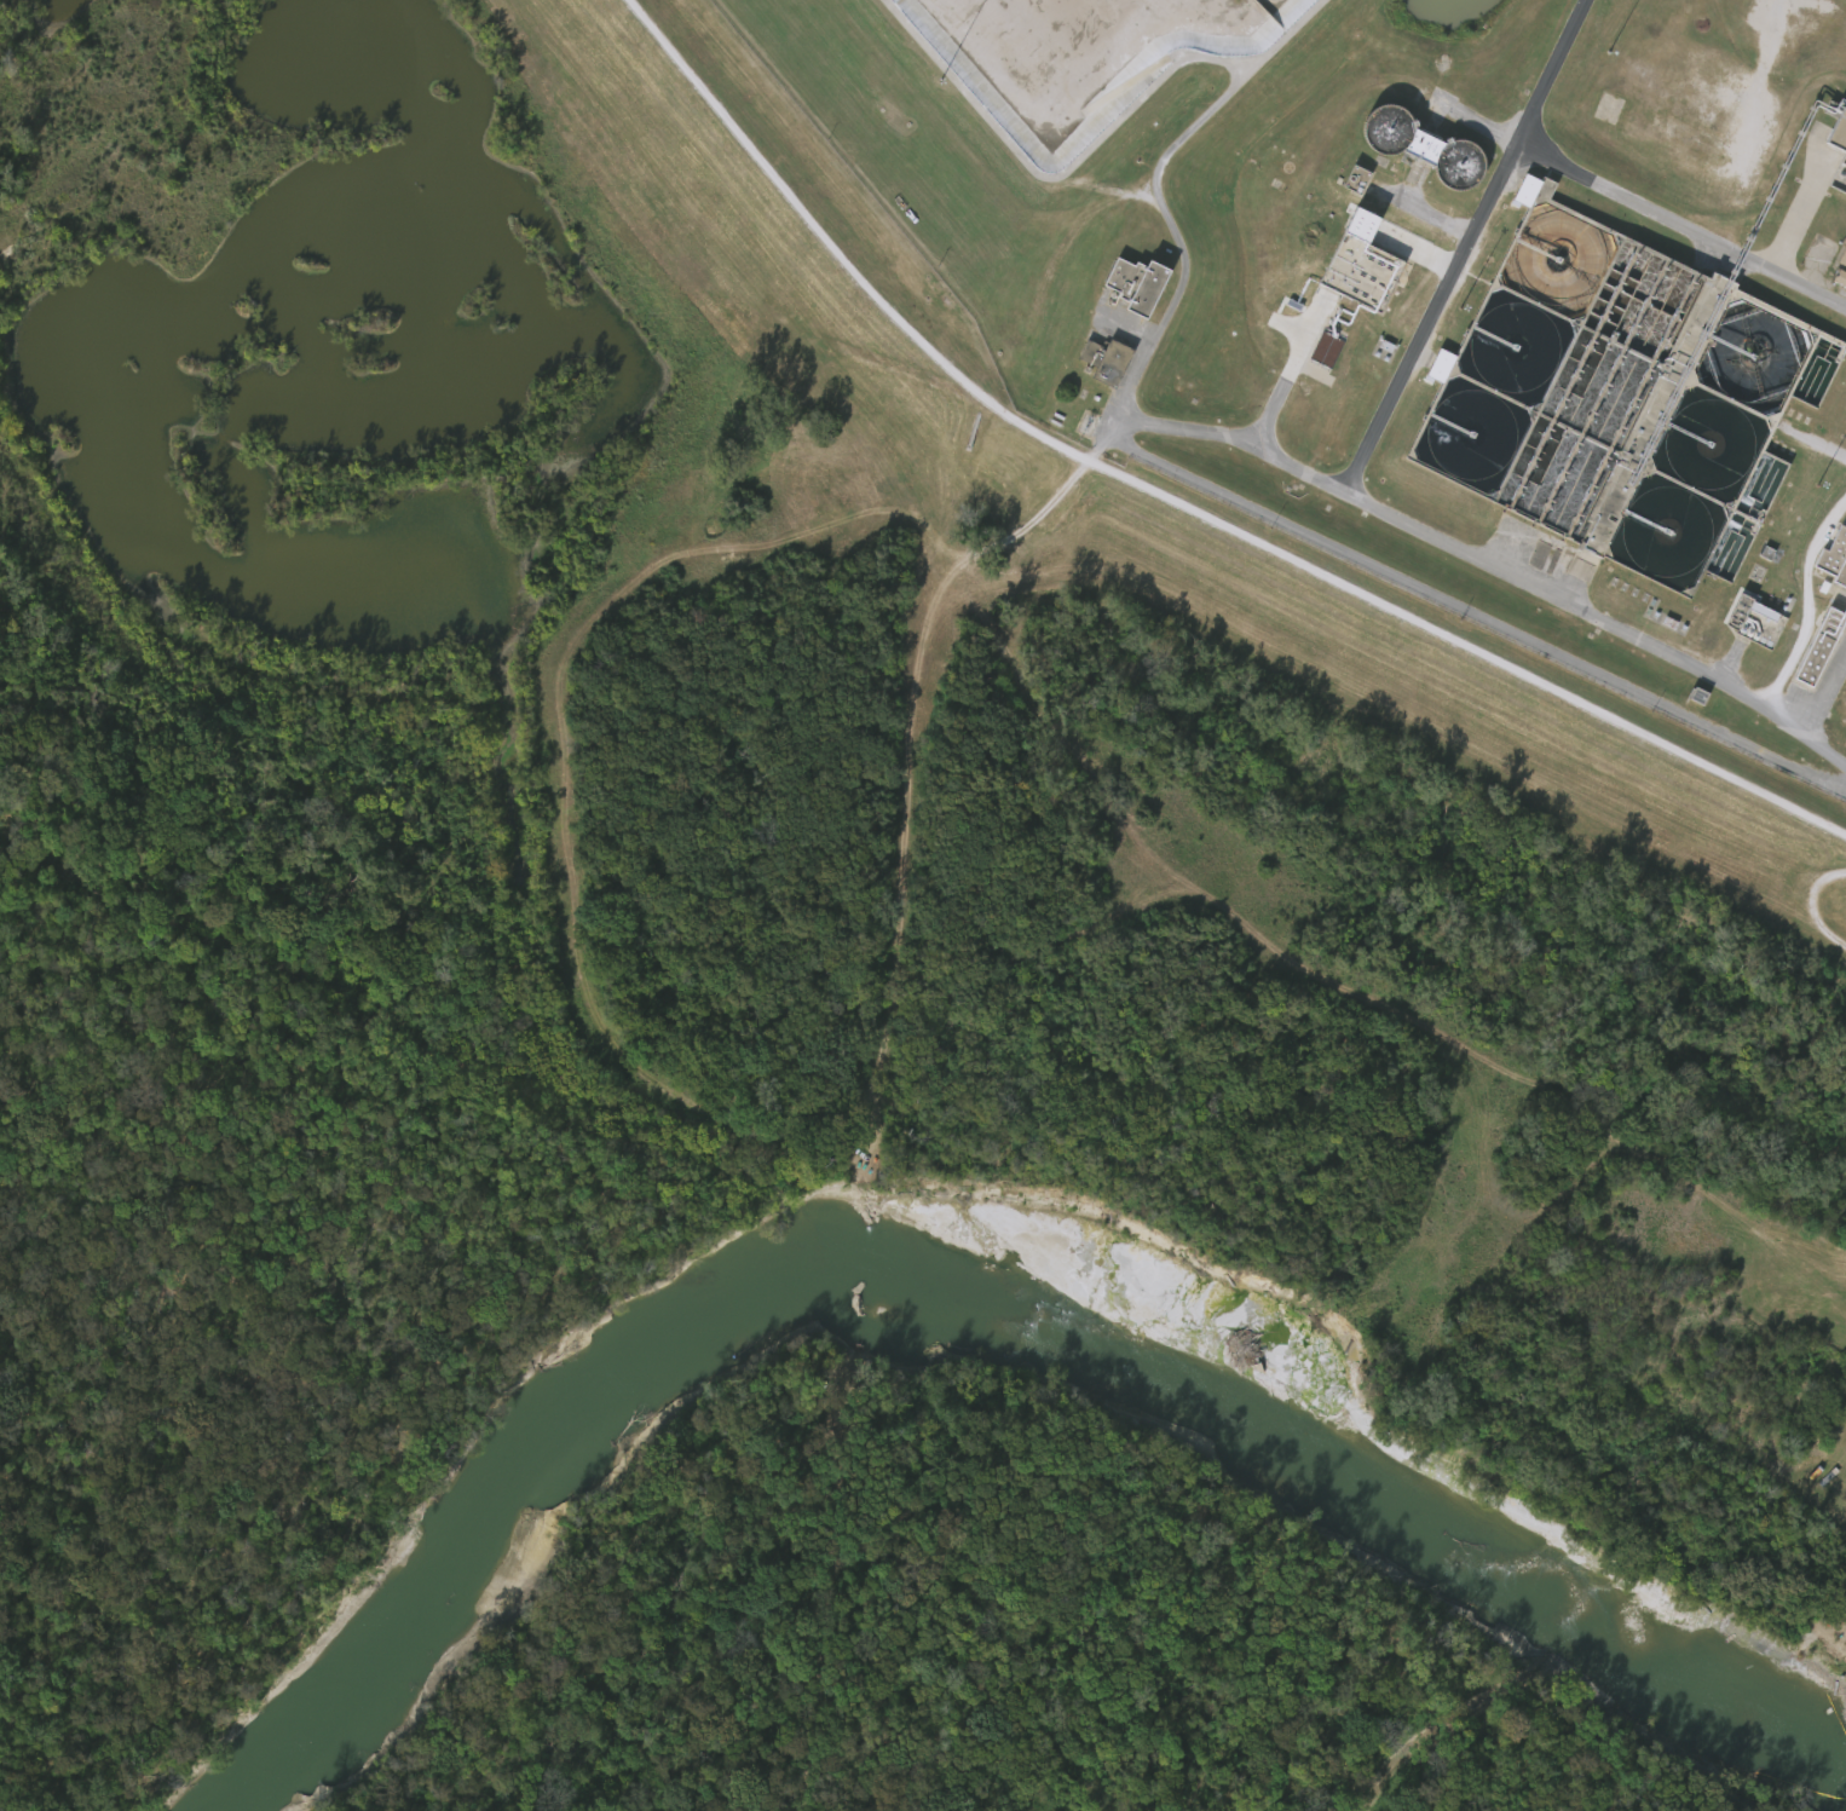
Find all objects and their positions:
road: (1759, 81)
building: (1841, 135)
building: (1425, 145)
building: (1358, 178)
building: (1343, 179)
building: (1841, 179)
road: (1611, 185)
road: (1156, 190)
building: (1519, 207)
building: (1842, 258)
building: (1365, 267)
building: (1839, 279)
building: (1140, 283)
road: (1433, 313)
wastewater plant: (1356, 331)
building: (1313, 350)
building: (1107, 361)
building: (1426, 365)
road: (1286, 376)
building: (1623, 397)
road: (1173, 504)
road: (1467, 549)
building: (1836, 558)
road: (1806, 600)
road: (1481, 607)
building: (1758, 621)
building: (1806, 646)
building: (1824, 648)
river: (991, 1257)

